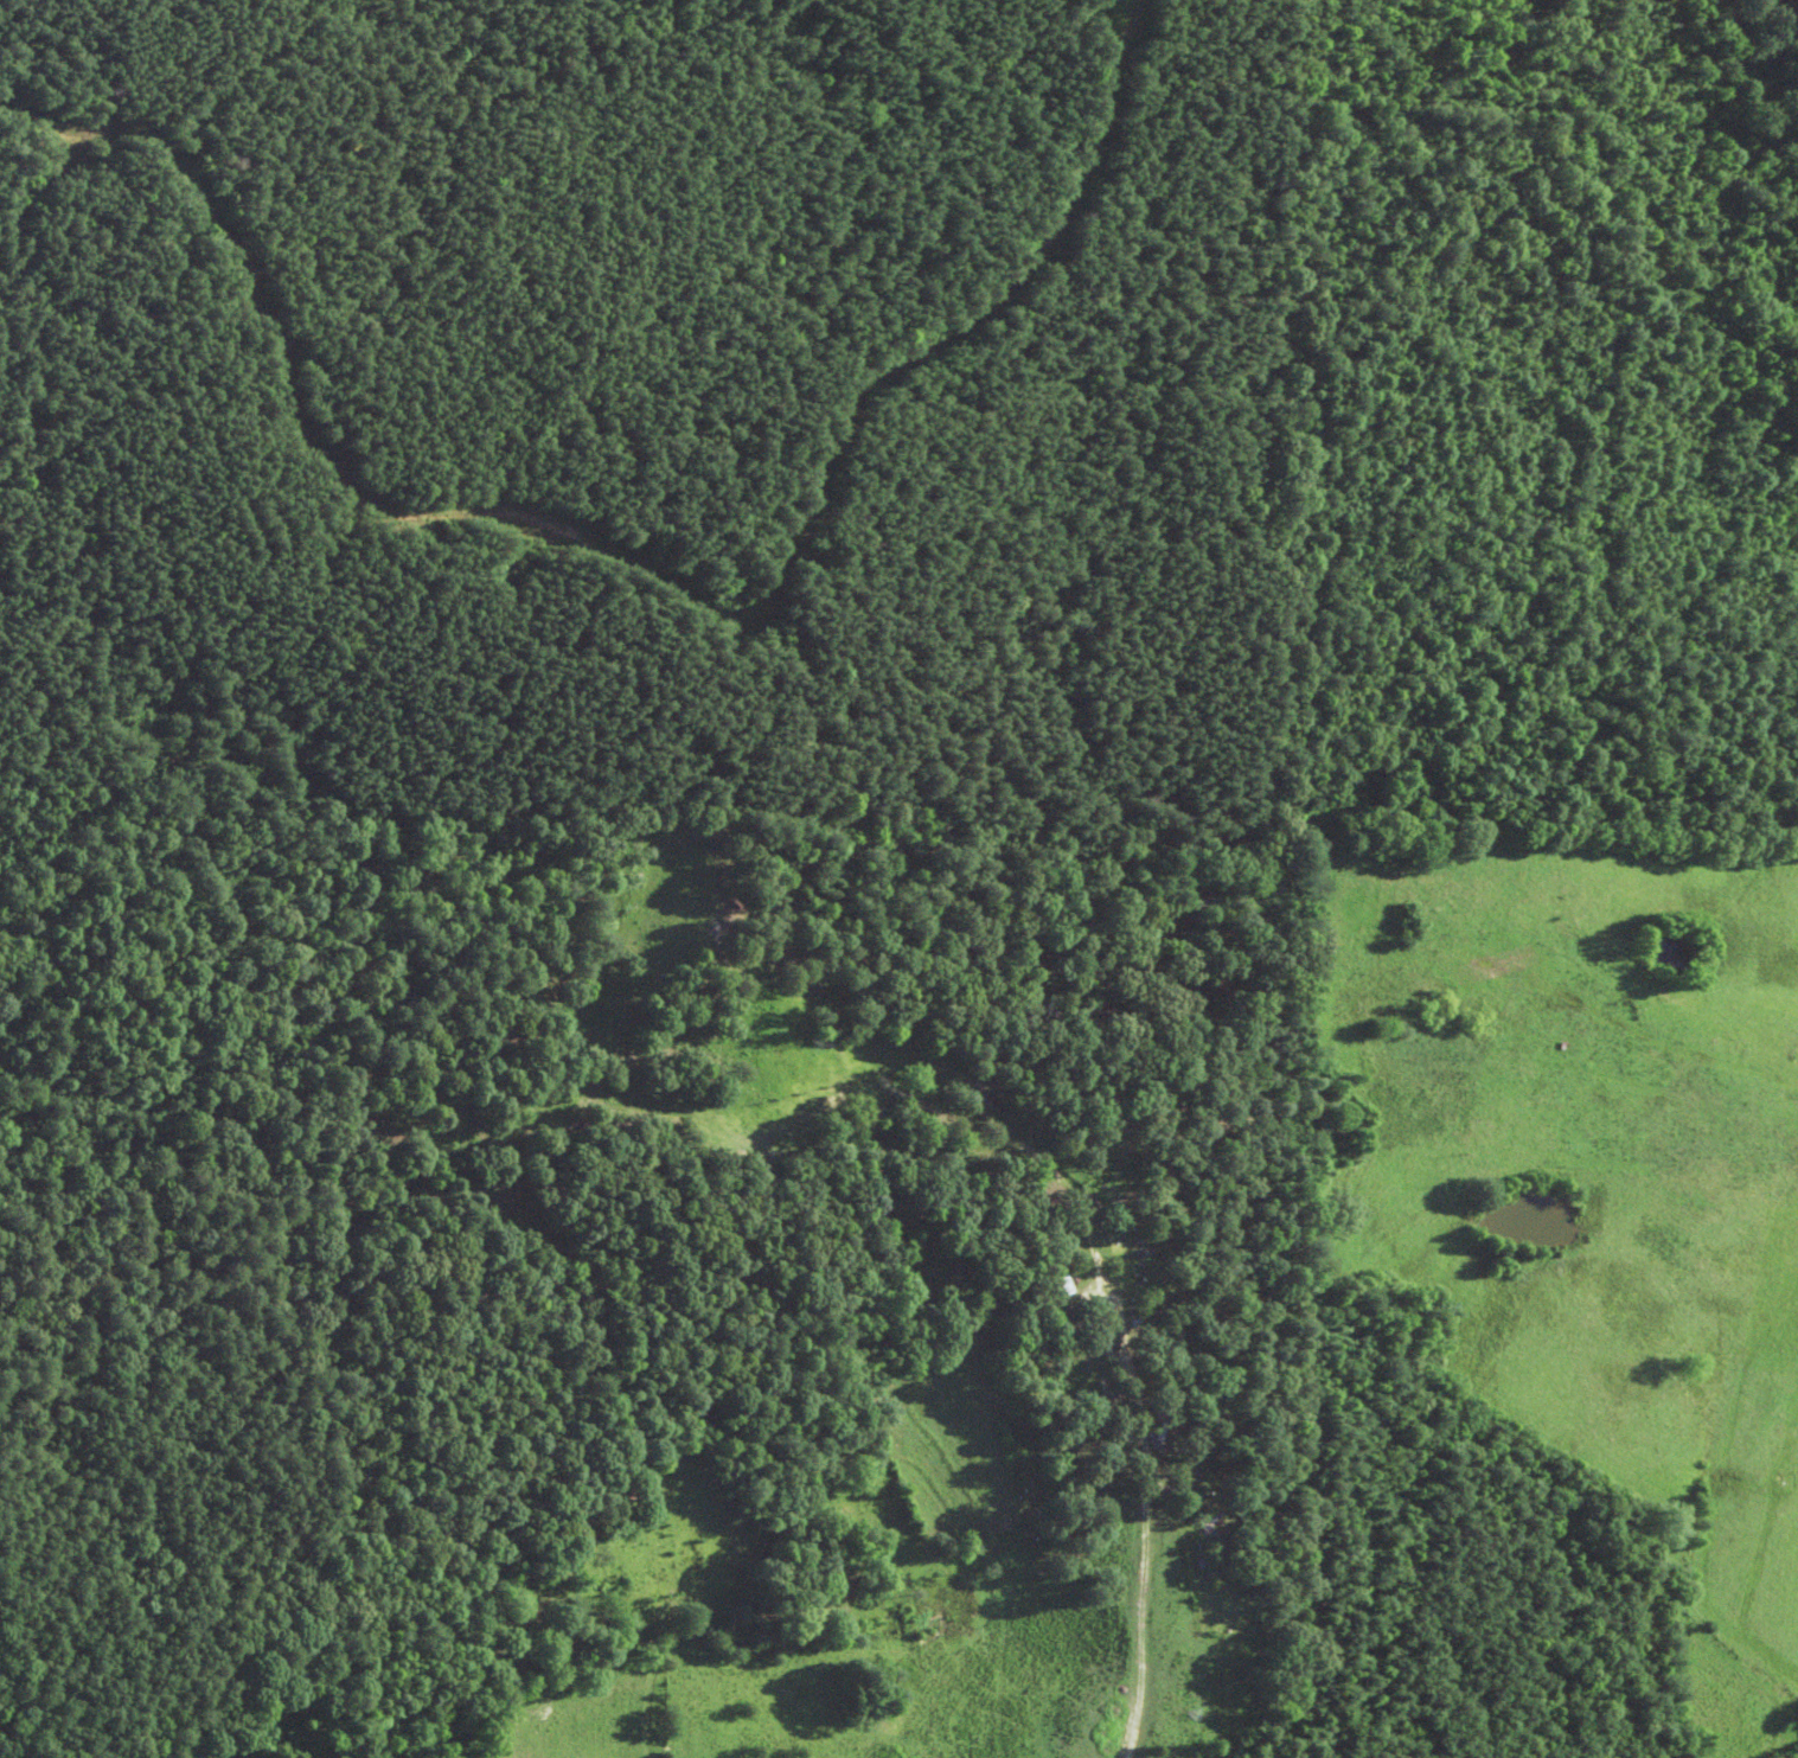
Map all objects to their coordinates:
building: (1151, 1425)

